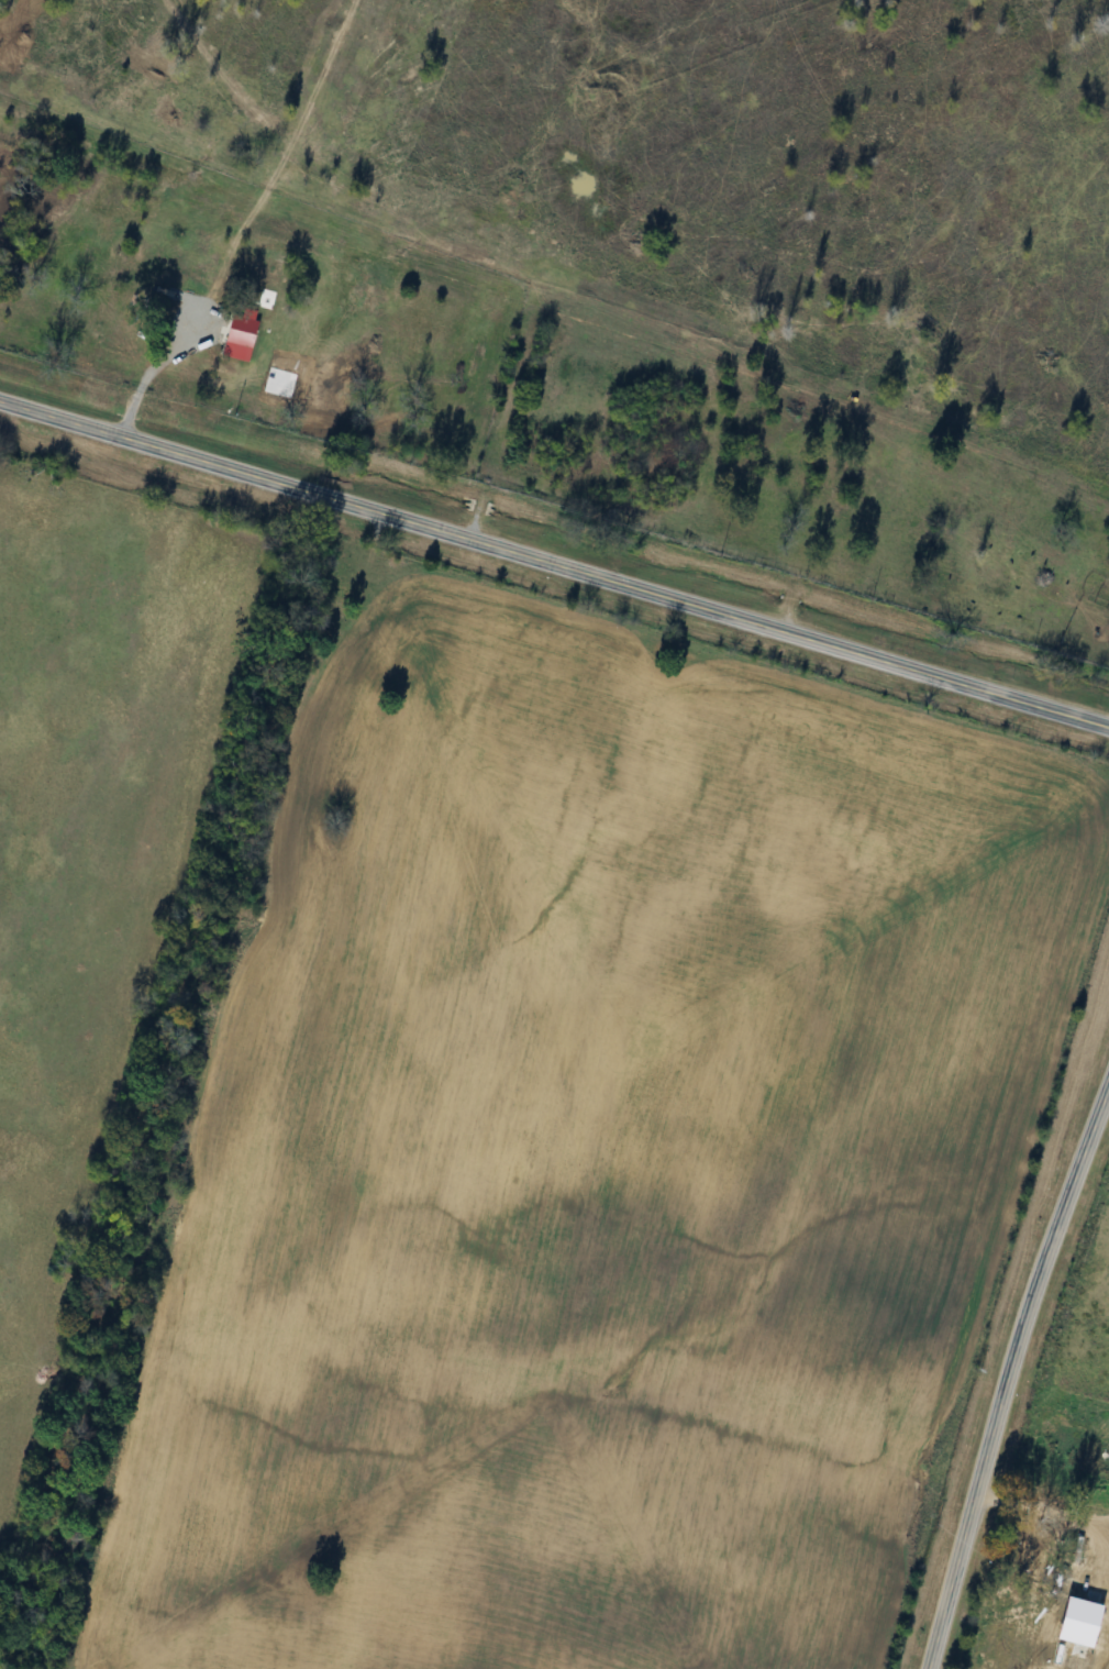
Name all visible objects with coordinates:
building: (242, 340)
road: (554, 562)
road: (1011, 1363)
building: (1104, 1533)

